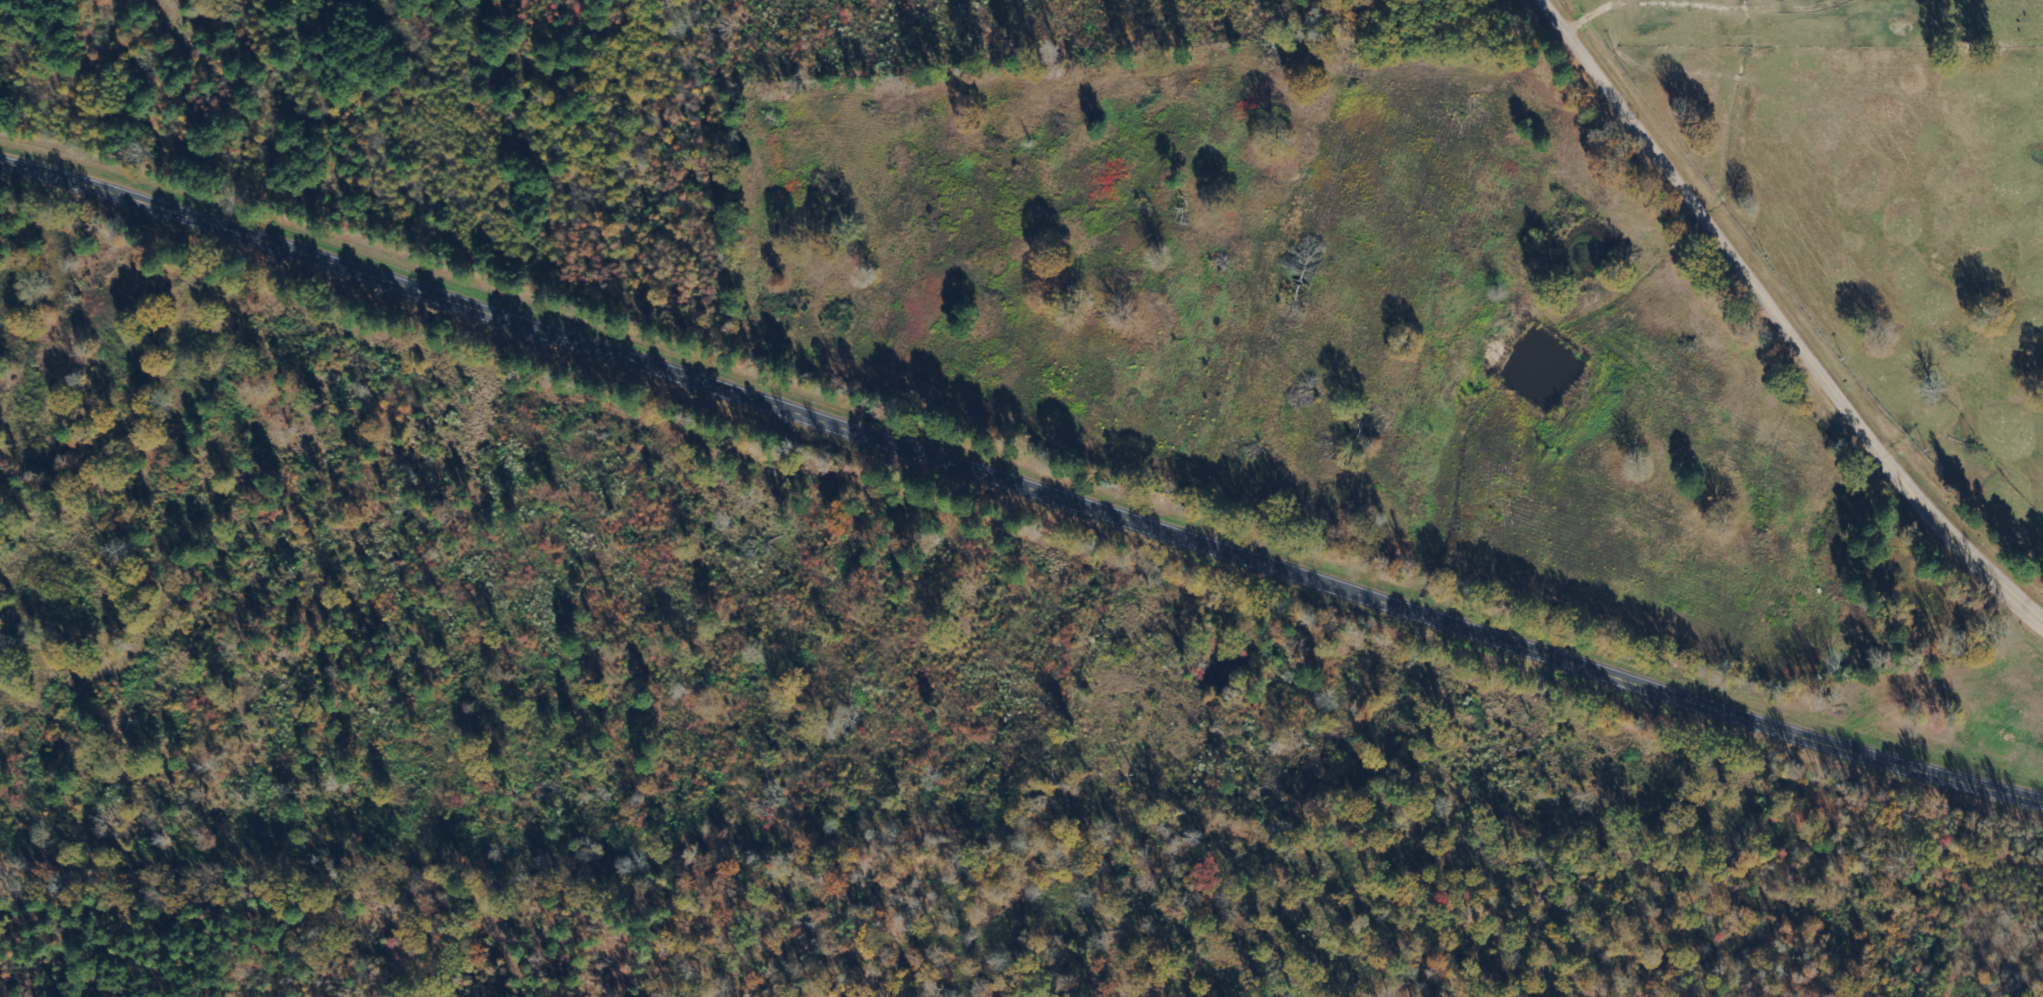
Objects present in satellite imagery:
road: (1777, 324)
road: (1021, 483)

